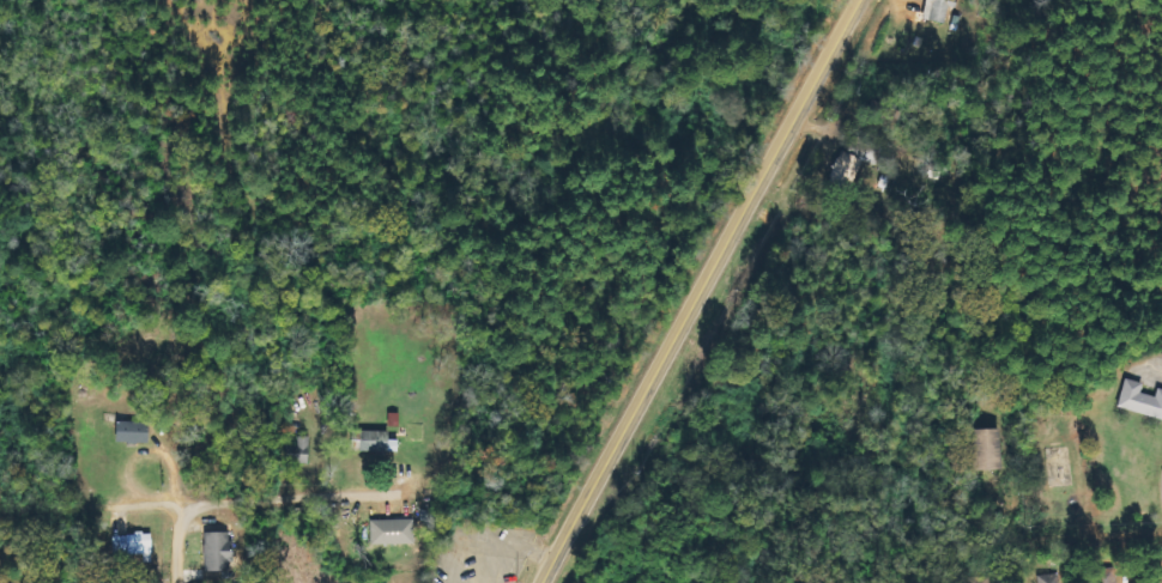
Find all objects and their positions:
building: (934, 10)
building: (858, 163)
road: (697, 291)
building: (1137, 401)
building: (133, 432)
building: (371, 441)
road: (1121, 444)
building: (981, 449)
building: (298, 451)
road: (793, 469)
road: (278, 499)
road: (1069, 515)
building: (394, 530)
road: (170, 535)
building: (134, 543)
building: (219, 549)
building: (1049, 578)
building: (978, 579)

